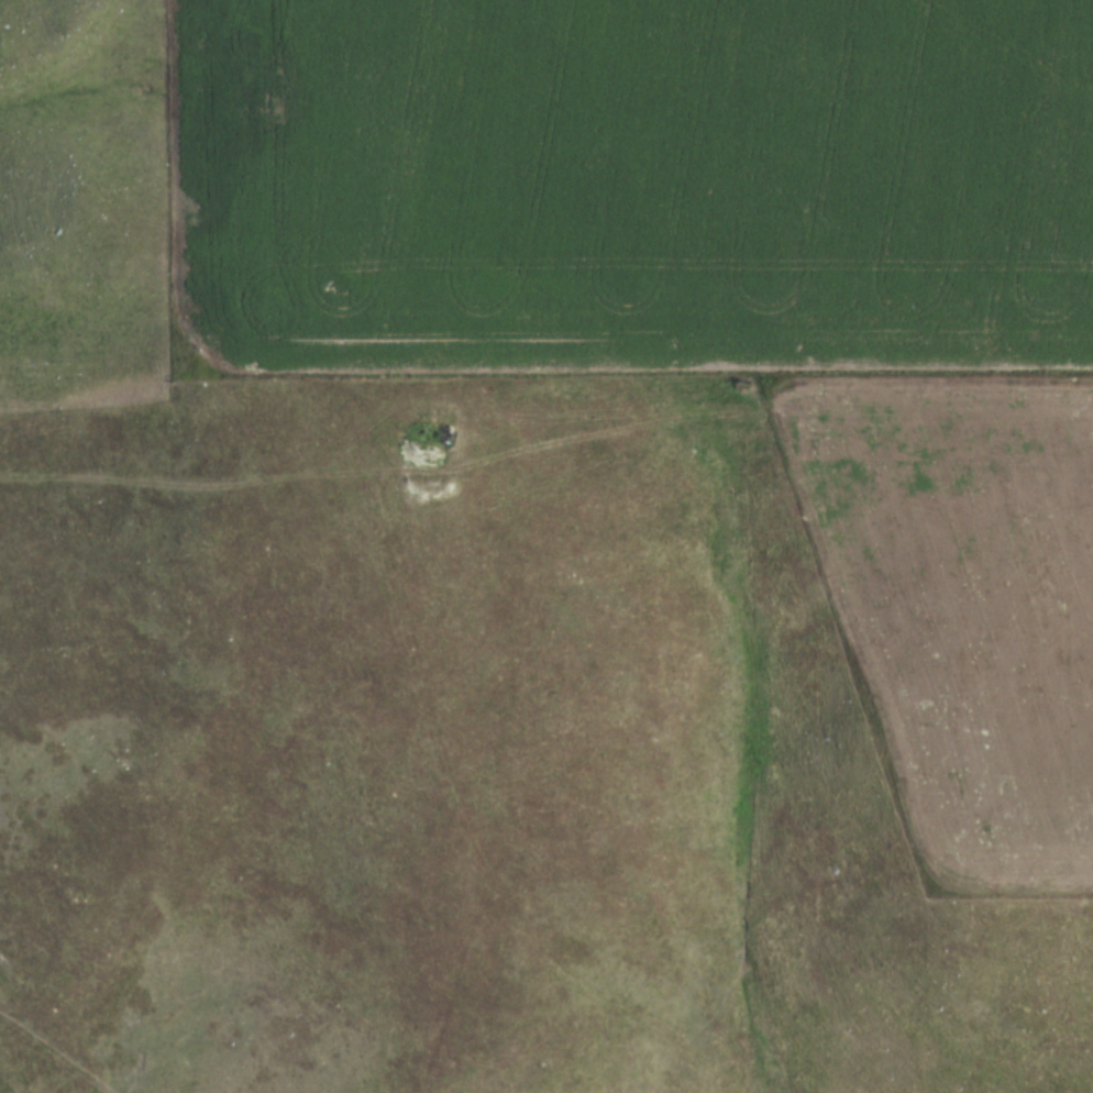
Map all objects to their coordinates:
building: (1041, 581)

